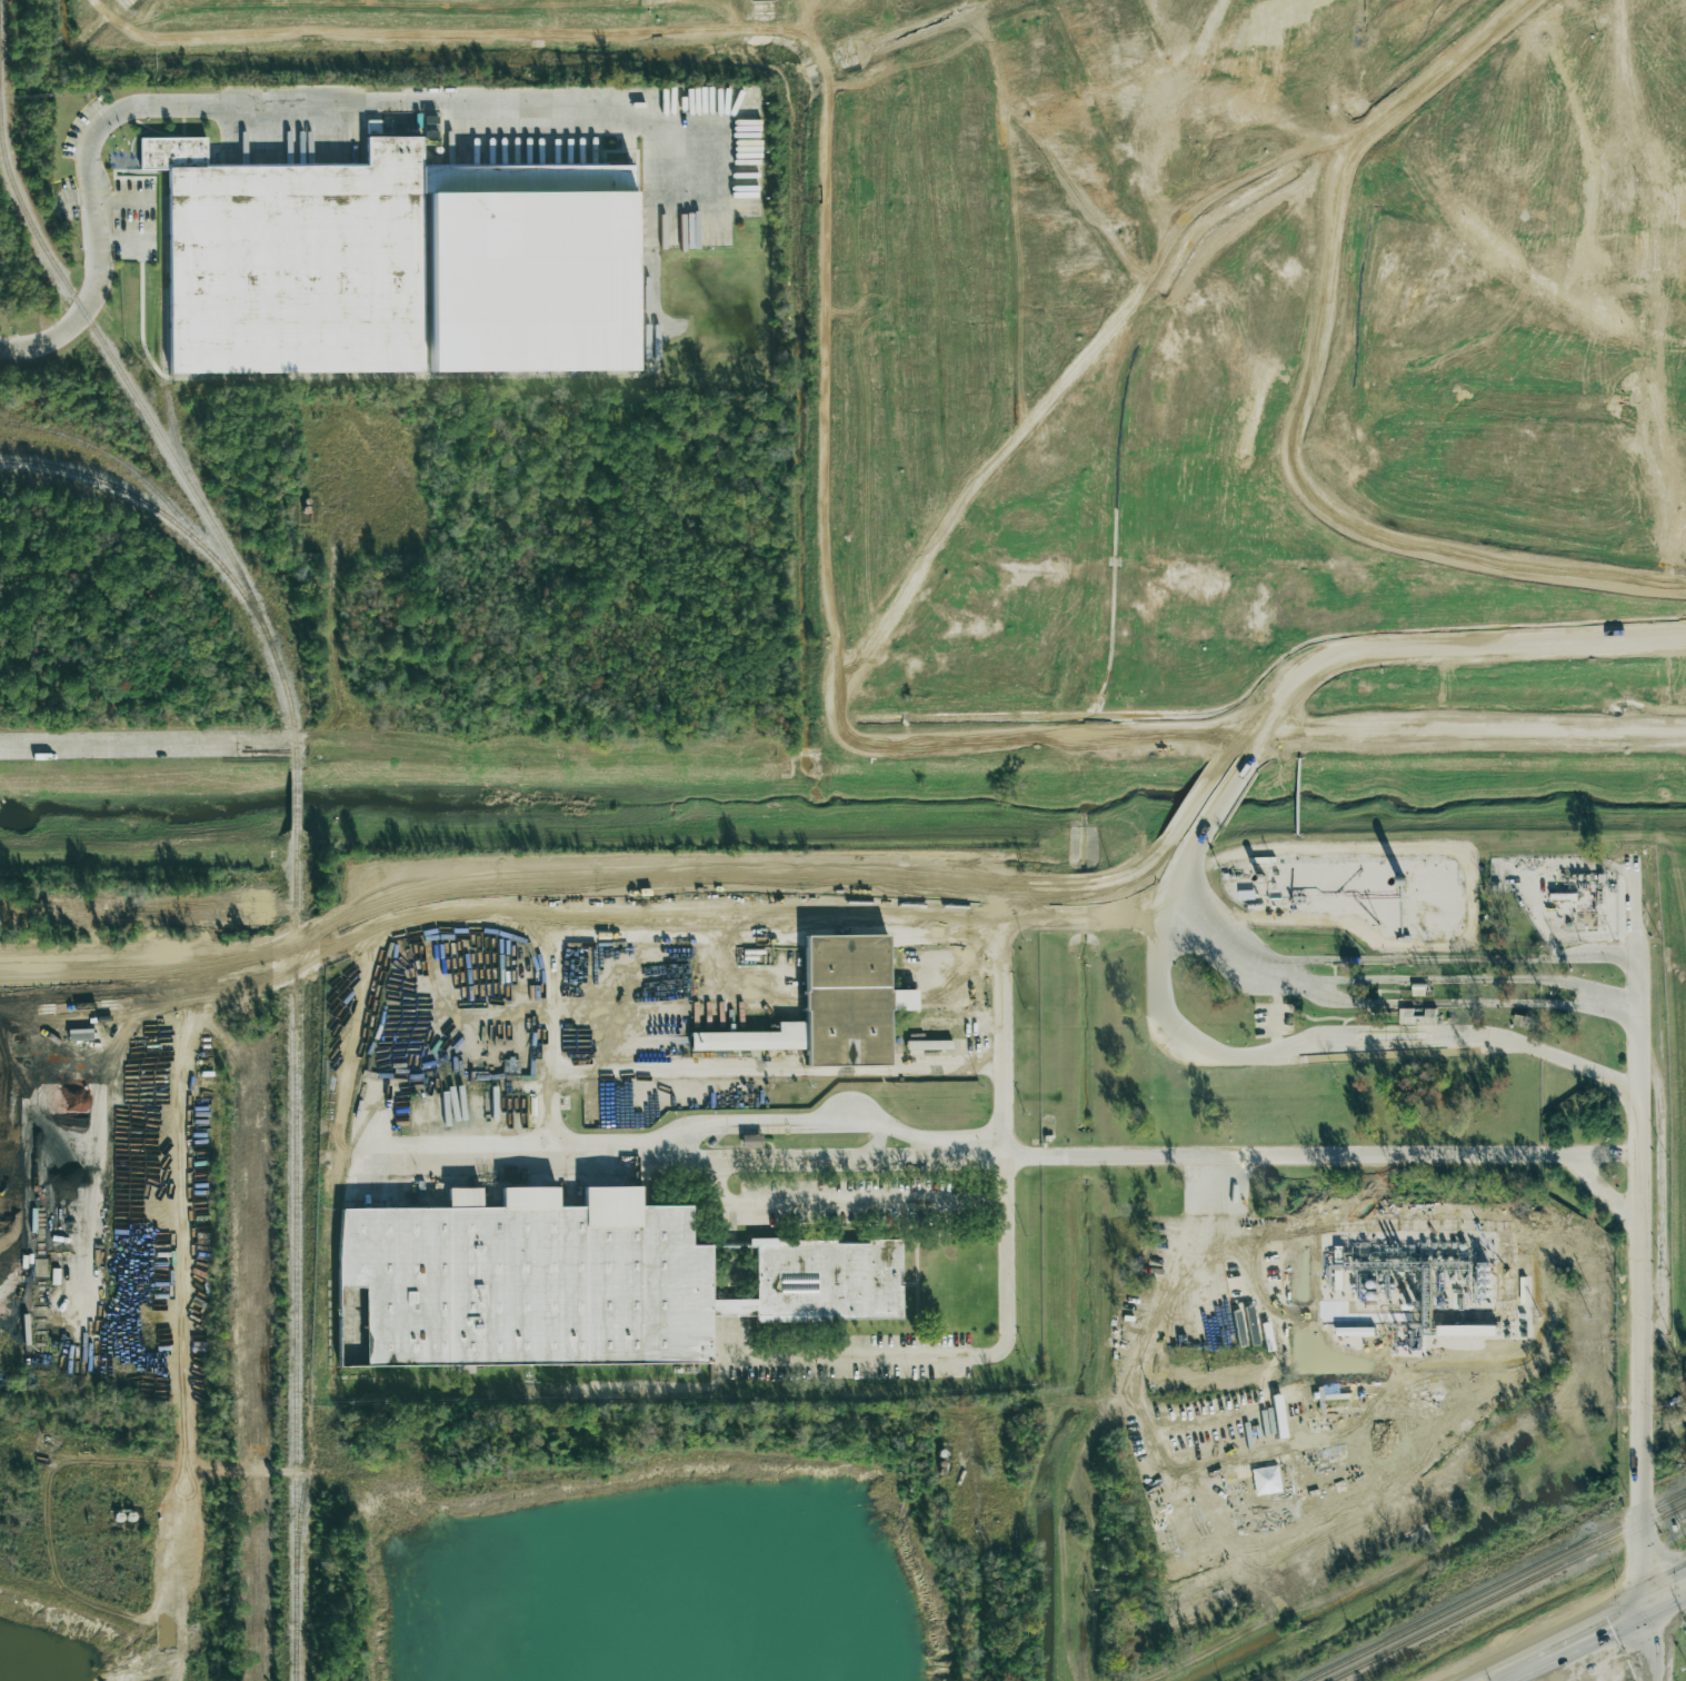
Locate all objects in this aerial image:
road: (750, 38)
road: (269, 102)
building: (393, 263)
landfill: (1185, 346)
railway: (161, 352)
railway: (129, 389)
railway: (128, 470)
railway: (148, 506)
road: (889, 640)
road: (1454, 643)
road: (1256, 730)
road: (143, 745)
road: (1250, 747)
road: (1217, 798)
railway: (295, 800)
road: (1193, 838)
road: (539, 891)
road: (1131, 905)
road: (948, 932)
road: (622, 938)
road: (1441, 959)
road: (1376, 979)
road: (1639, 996)
road: (1450, 1002)
building: (832, 1006)
road: (1277, 1015)
building: (1417, 1016)
road: (1308, 1038)
road: (1640, 1060)
road: (956, 1065)
road: (690, 1144)
road: (1338, 1154)
road: (1607, 1155)
road: (794, 1156)
road: (818, 1201)
railway: (297, 1255)
building: (581, 1280)
road: (1014, 1290)
road: (1266, 1295)
road: (1148, 1329)
road: (1640, 1345)
railway: (1495, 1586)
road: (1669, 1588)
railway: (1508, 1594)
traffic signals: (1653, 1597)
road: (982, 1612)
road: (1588, 1623)
road: (1654, 1639)
road: (1495, 1665)
road: (1533, 1665)

